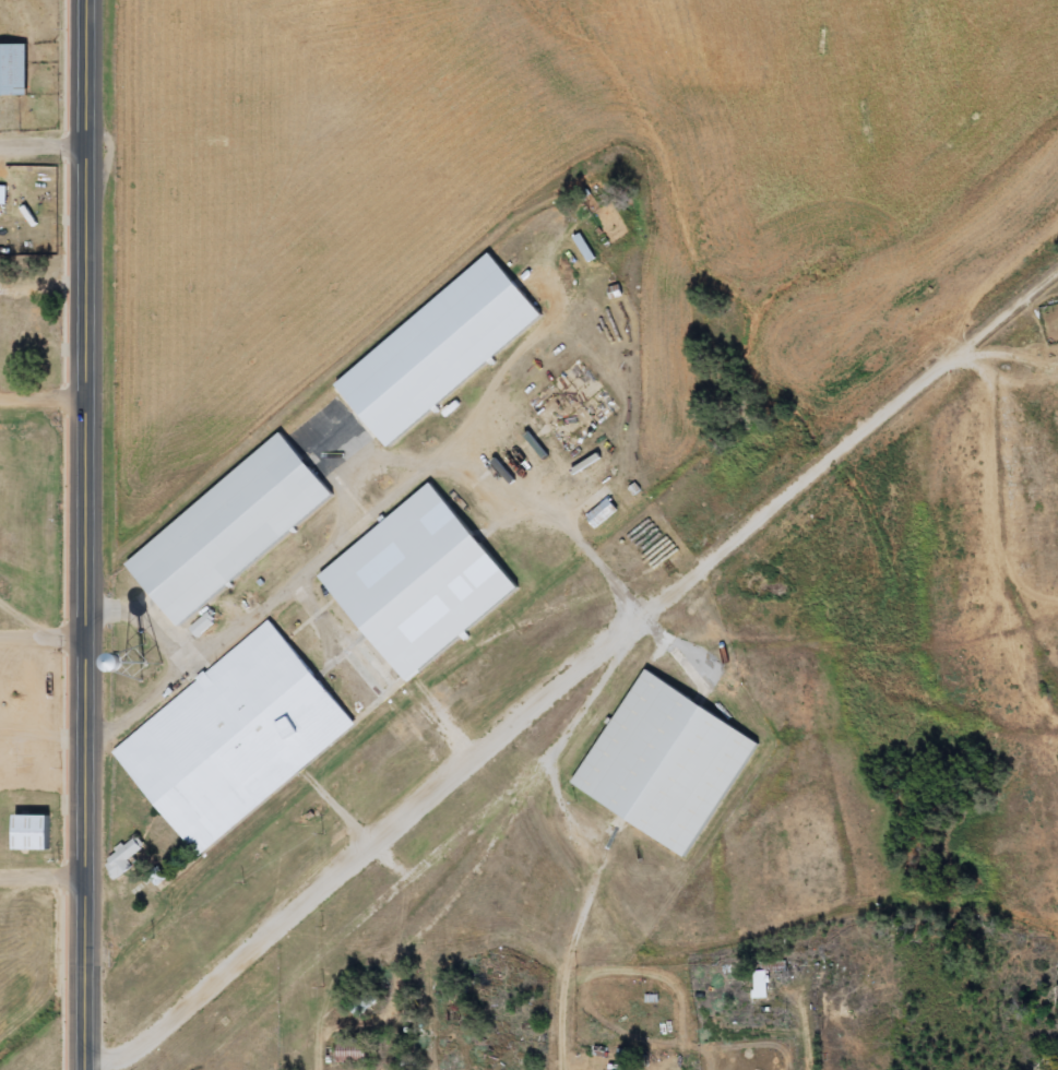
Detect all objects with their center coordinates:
building: (13, 69)
road: (41, 147)
building: (3, 195)
railway: (1011, 311)
building: (438, 349)
road: (41, 403)
road: (357, 526)
building: (229, 528)
road: (85, 534)
road: (581, 546)
building: (418, 582)
road: (151, 616)
building: (203, 625)
road: (43, 642)
water tower: (151, 658)
road: (516, 722)
building: (236, 738)
building: (667, 762)
building: (31, 833)
building: (124, 858)
road: (44, 876)
building: (761, 985)
road: (811, 1024)
road: (569, 1031)

